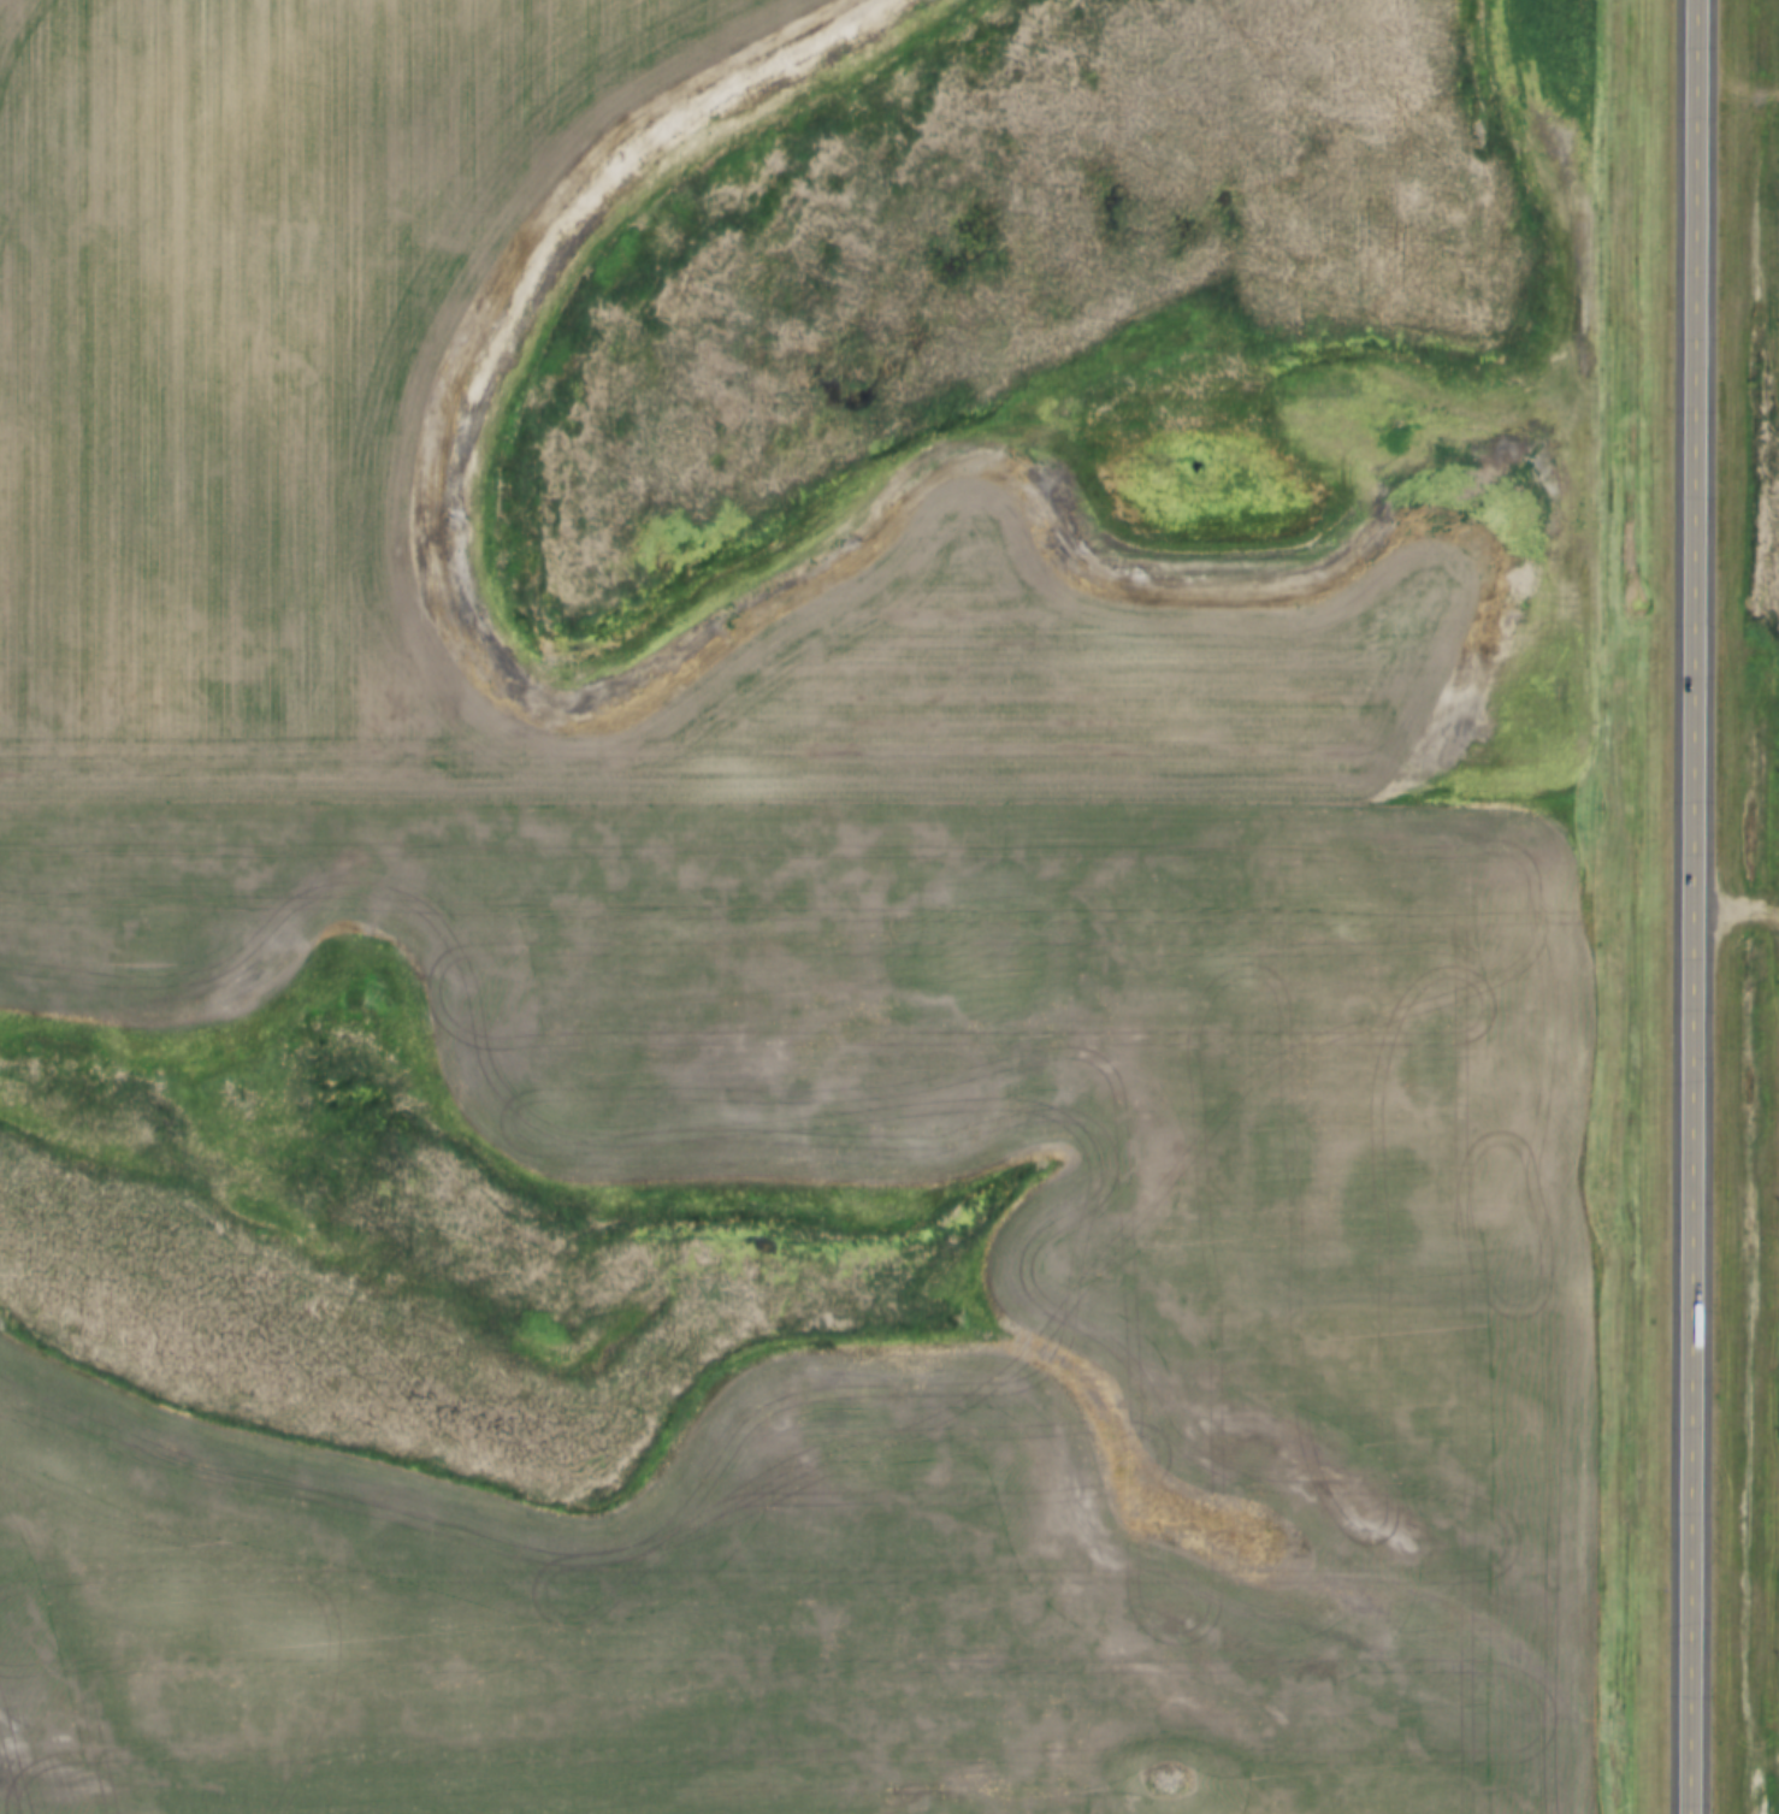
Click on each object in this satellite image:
road: (1737, 900)
road: (1695, 906)

